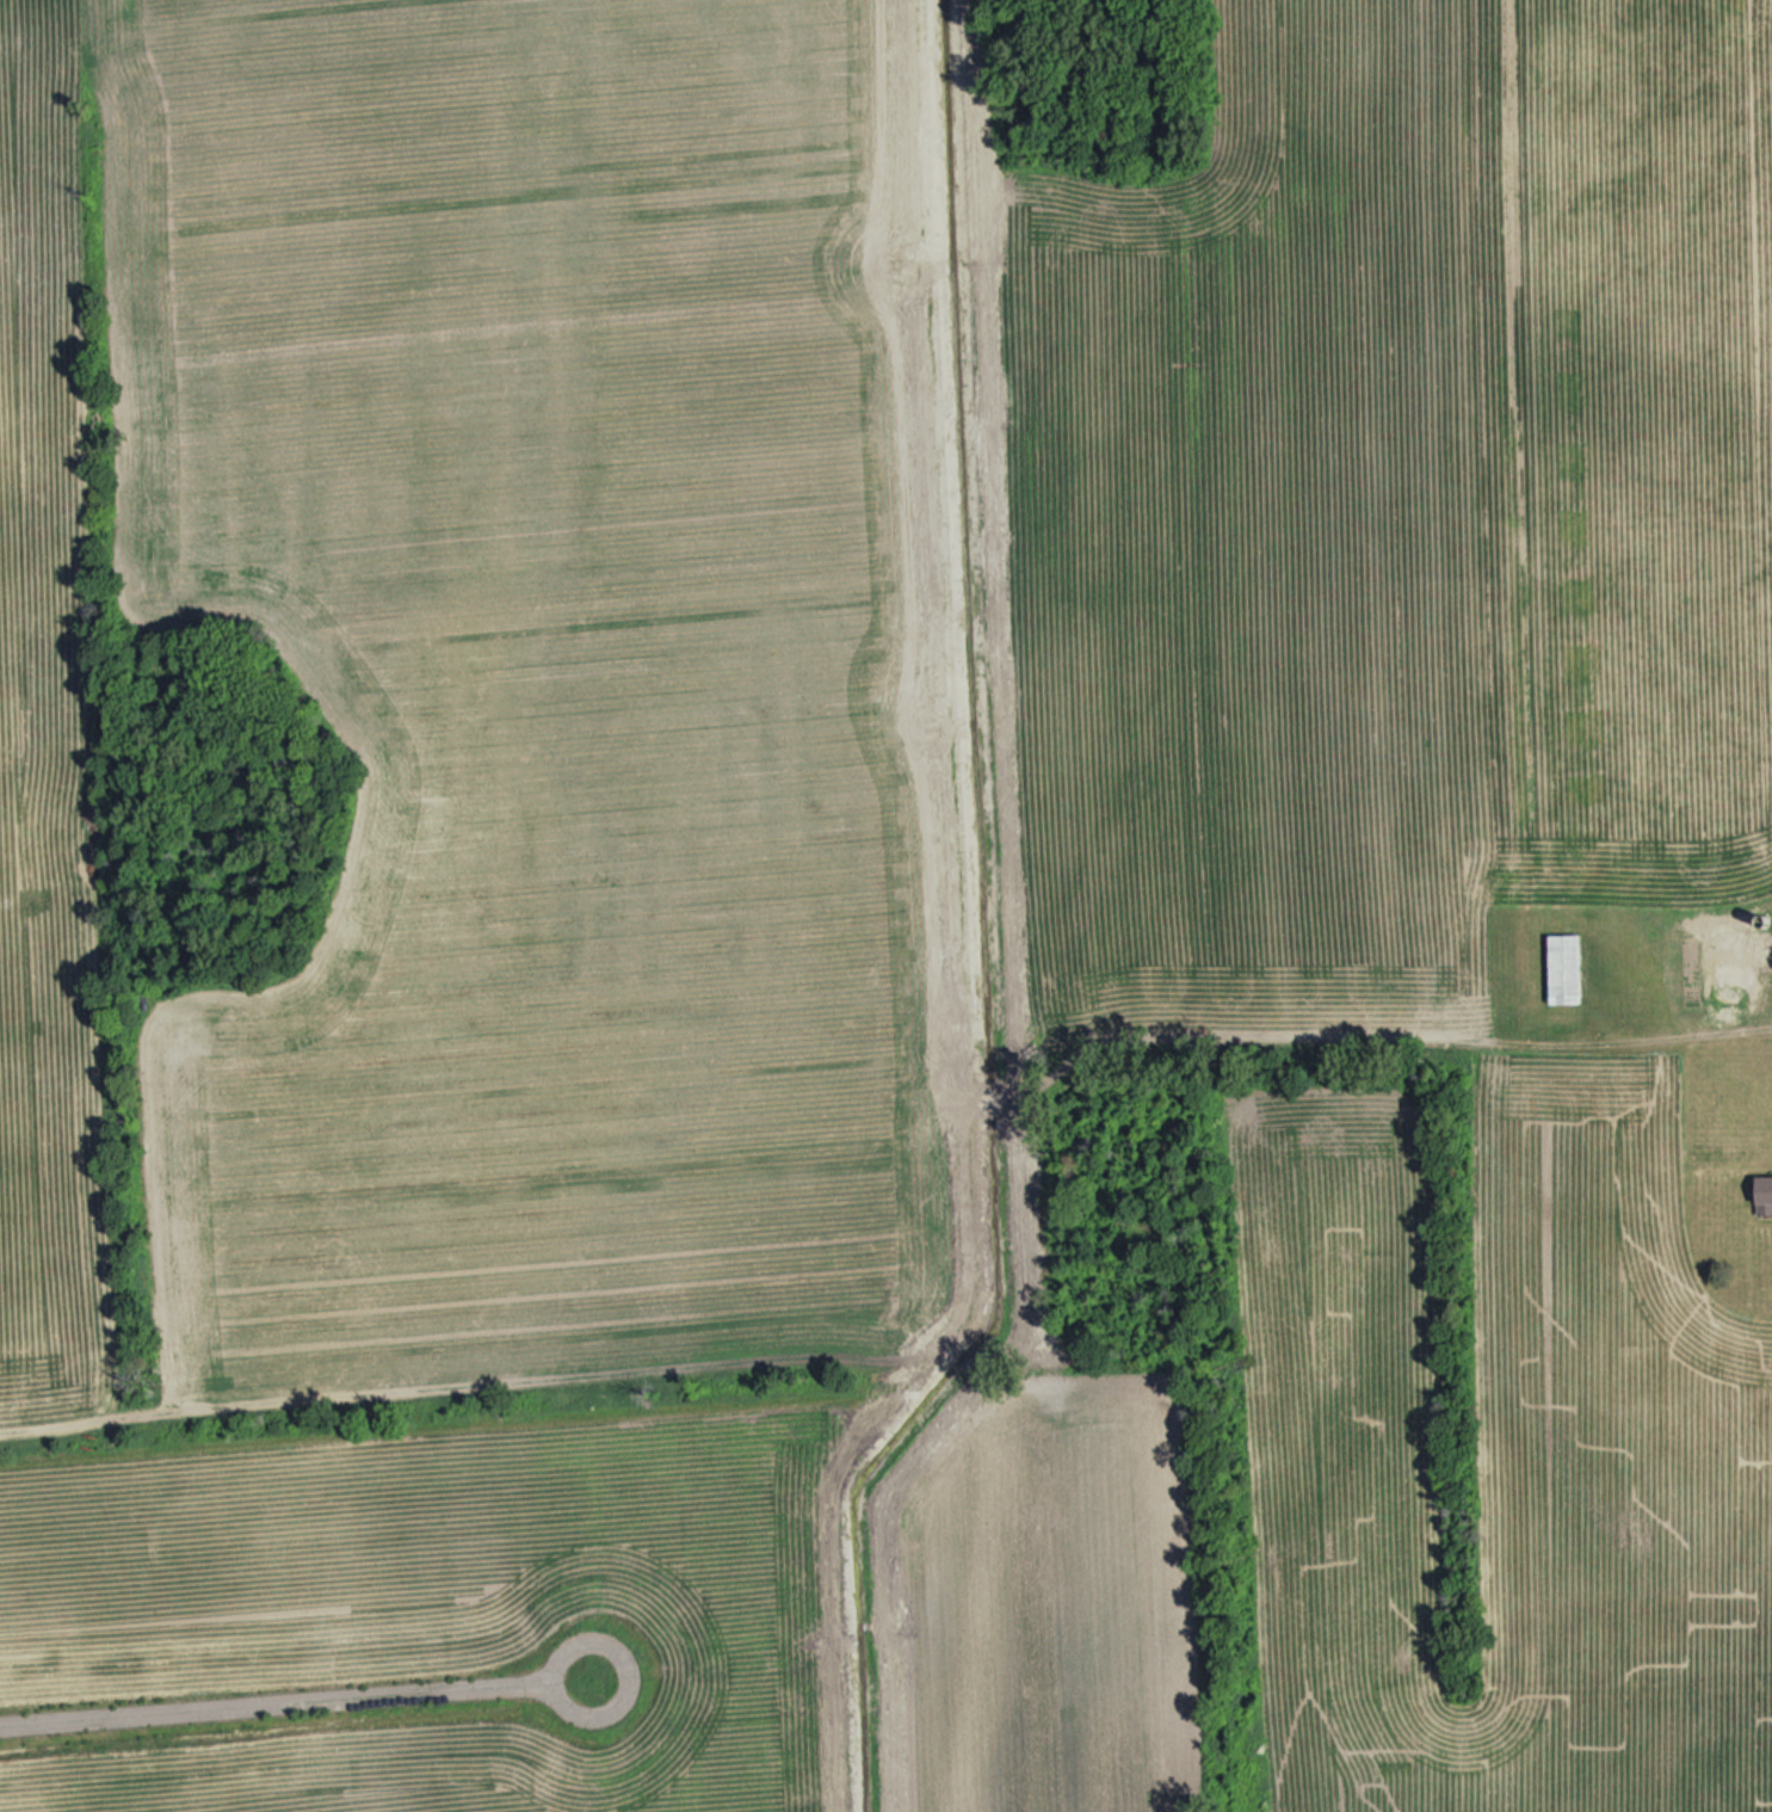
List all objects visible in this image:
building: (1564, 968)
building: (1764, 1194)
road: (297, 1696)

